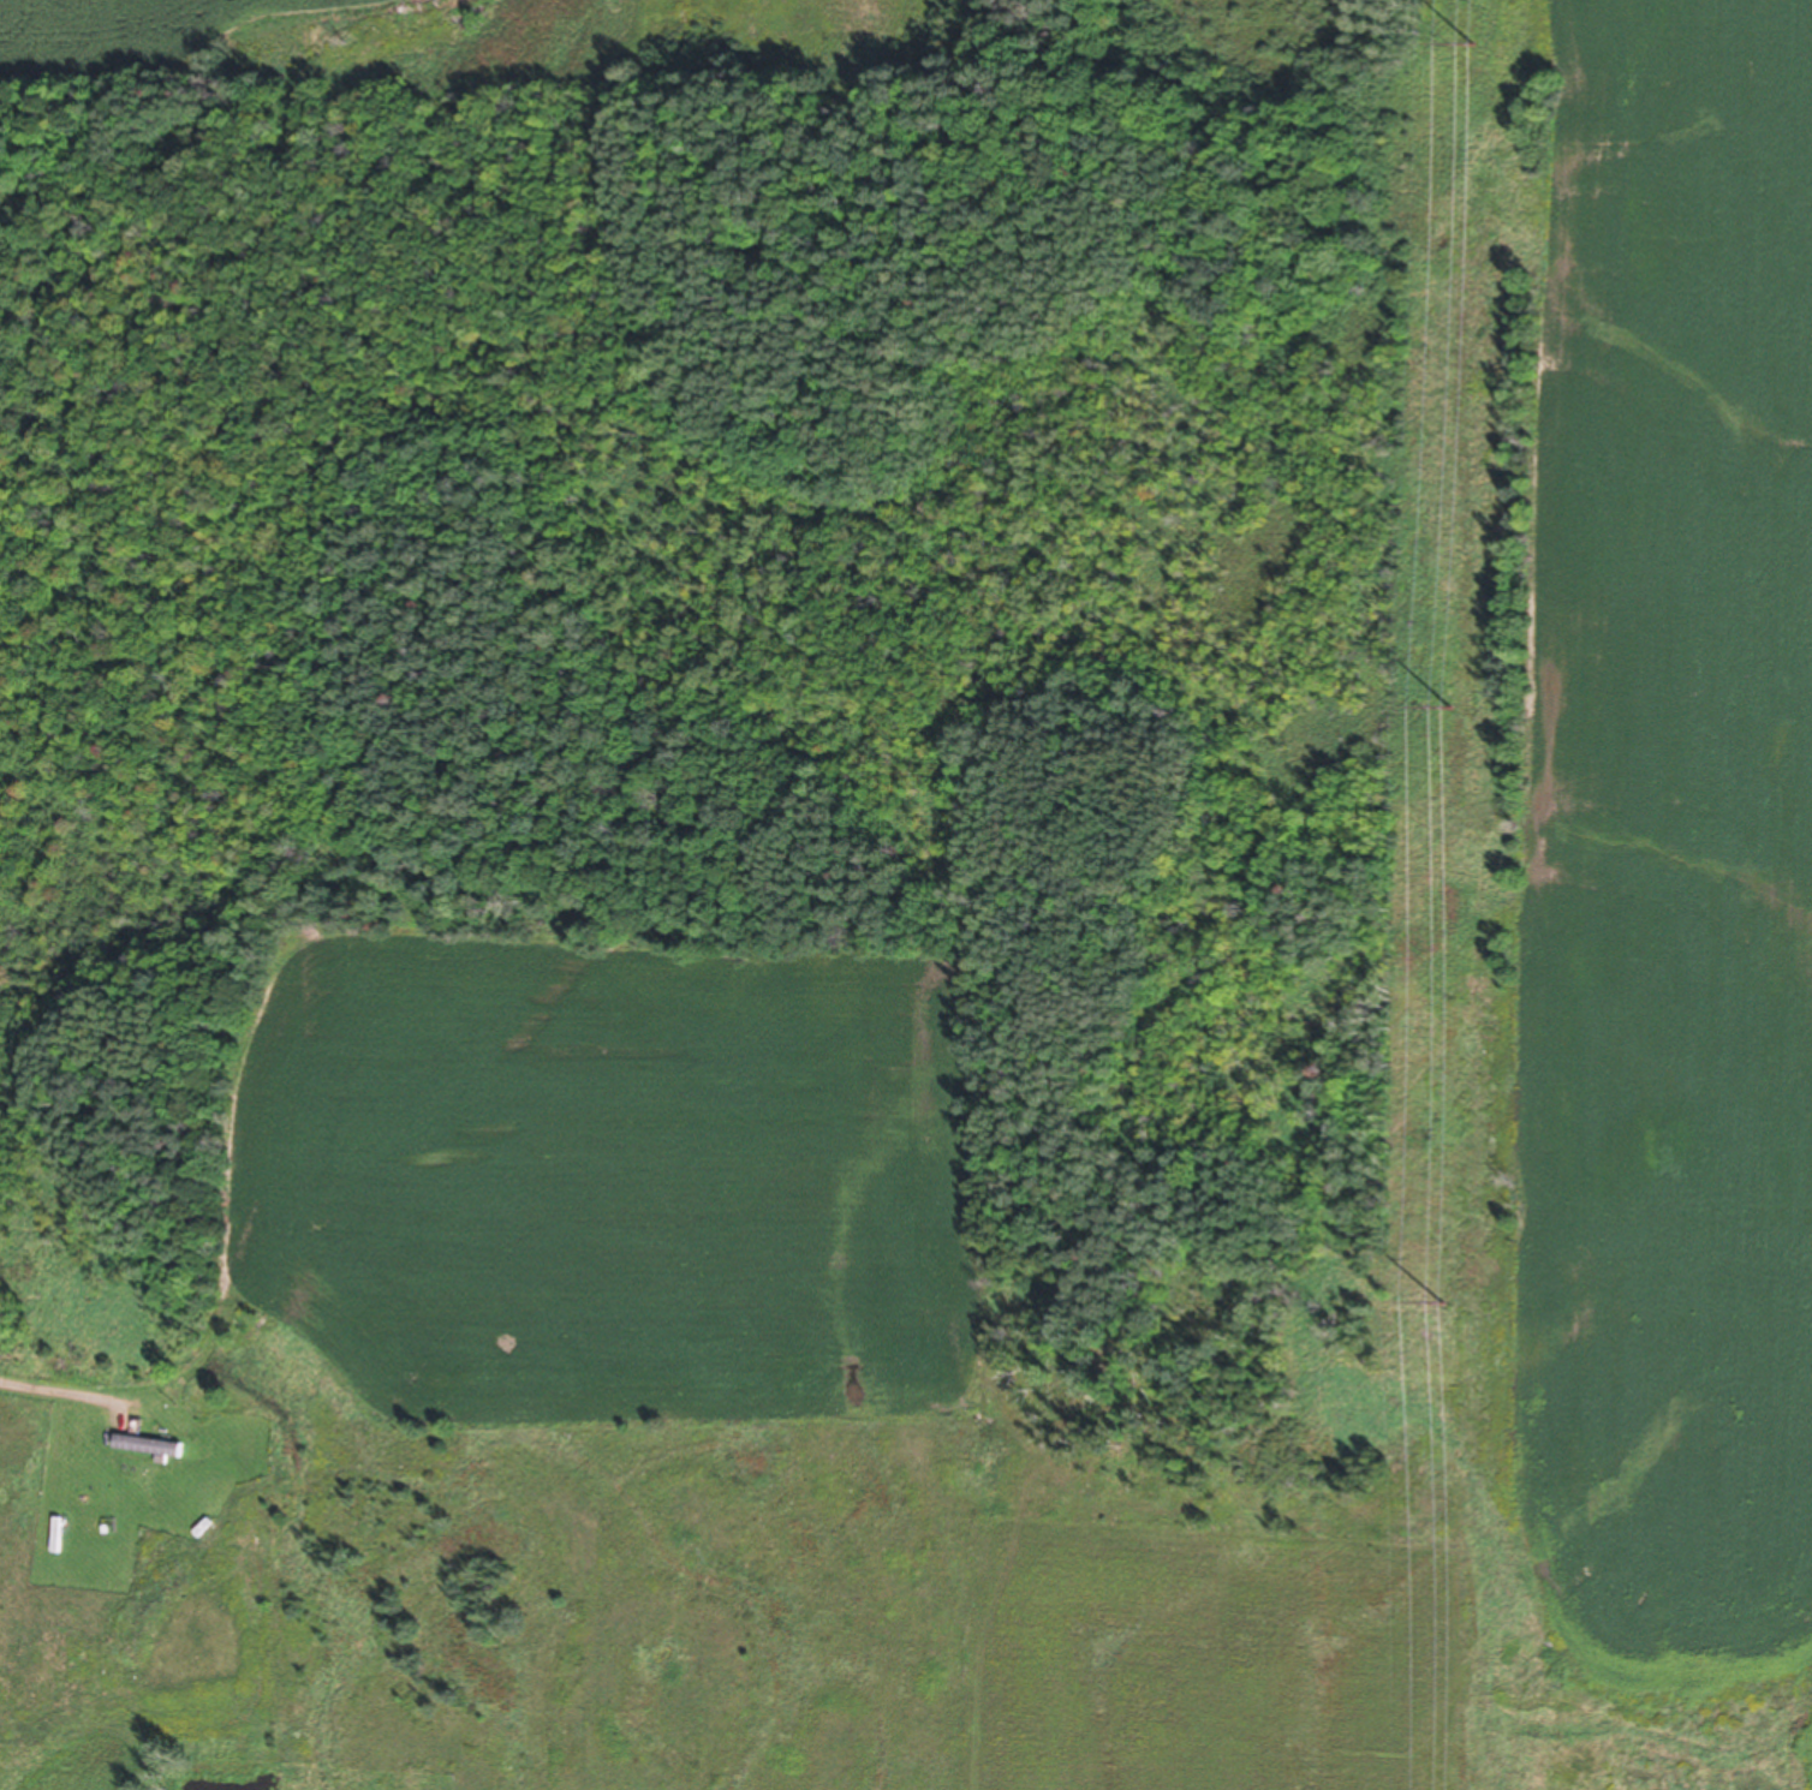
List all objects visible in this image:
power tower: (1472, 44)
power tower: (1455, 710)
power tower: (1441, 1308)
building: (147, 1450)

